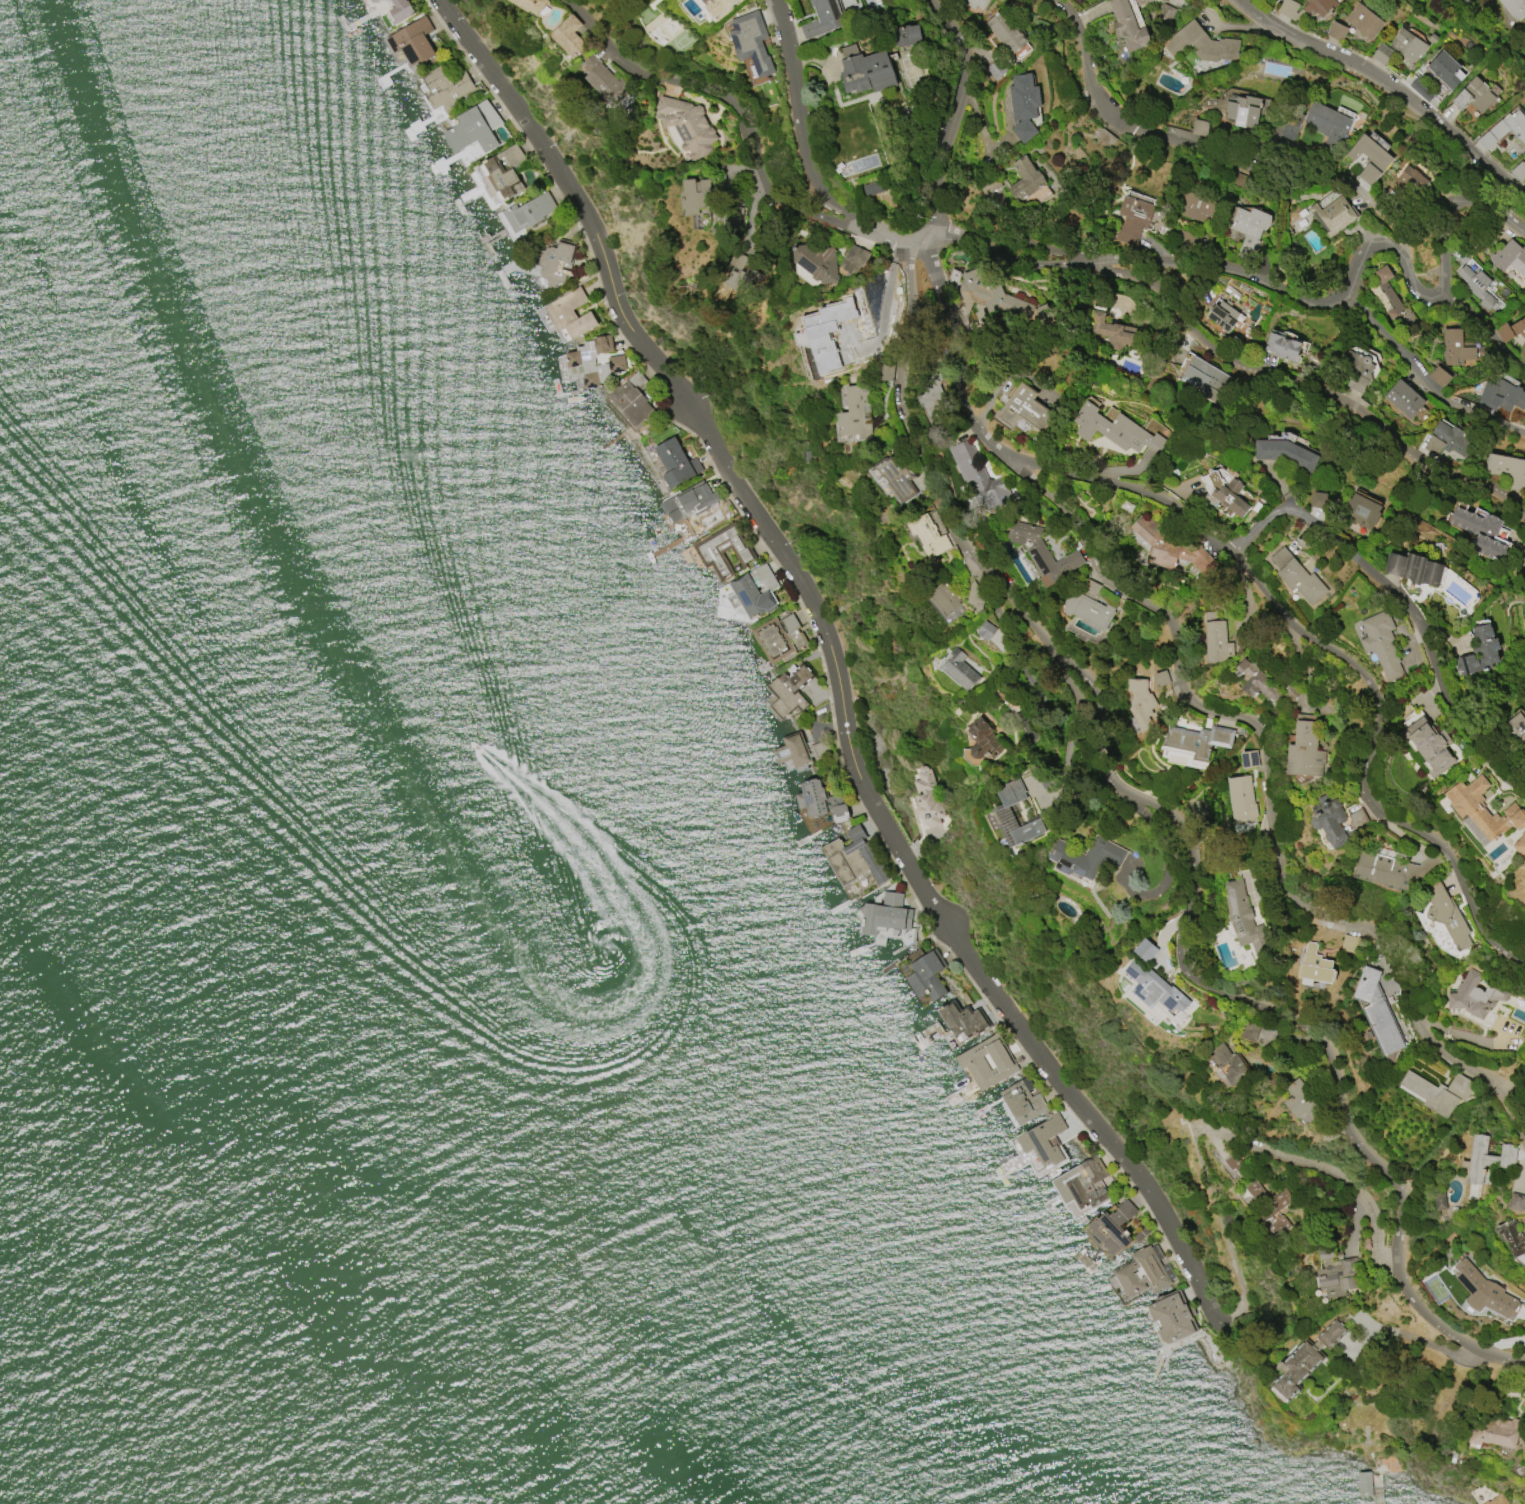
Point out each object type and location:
building: (368, 2)
building: (974, 3)
building: (870, 4)
building: (531, 5)
building: (716, 6)
building: (1513, 7)
building: (1307, 8)
building: (400, 9)
building: (822, 18)
building: (1364, 21)
building: (1127, 26)
building: (1335, 30)
building: (1004, 32)
building: (906, 35)
building: (568, 36)
building: (412, 41)
building: (750, 42)
building: (1202, 44)
building: (1408, 45)
building: (1381, 53)
building: (1445, 69)
building: (867, 72)
building: (447, 83)
building: (606, 83)
road: (1389, 87)
building: (1473, 95)
road: (725, 99)
building: (1023, 106)
building: (1243, 111)
building: (1326, 121)
building: (685, 126)
building: (473, 127)
building: (1504, 131)
building: (1377, 140)
road: (1204, 150)
road: (808, 155)
building: (1370, 158)
building: (500, 173)
building: (1025, 179)
building: (1410, 179)
building: (873, 187)
building: (696, 195)
building: (1195, 207)
building: (528, 211)
building: (1134, 214)
building: (1332, 215)
building: (1248, 230)
building: (1509, 257)
building: (854, 259)
building: (816, 261)
building: (555, 262)
building: (741, 274)
building: (1477, 286)
building: (1385, 293)
building: (992, 297)
road: (1296, 298)
building: (570, 313)
building: (1223, 315)
road: (1485, 330)
building: (1511, 330)
building: (1109, 331)
building: (823, 336)
building: (1283, 346)
building: (1455, 347)
building: (601, 358)
building: (1355, 369)
building: (1205, 376)
building: (1438, 376)
road: (1424, 381)
road: (1304, 384)
building: (1507, 391)
building: (932, 397)
building: (632, 398)
building: (1403, 399)
building: (1024, 409)
building: (854, 415)
building: (1115, 429)
building: (1441, 440)
building: (1284, 452)
building: (675, 462)
building: (1506, 471)
building: (893, 478)
building: (979, 478)
road: (1151, 494)
building: (1227, 497)
building: (1317, 500)
building: (688, 501)
building: (1360, 511)
building: (1481, 532)
building: (928, 535)
building: (1170, 548)
building: (722, 550)
building: (1042, 554)
building: (1413, 568)
building: (1297, 576)
building: (752, 592)
road: (1402, 601)
building: (944, 602)
building: (1088, 606)
building: (985, 630)
building: (777, 636)
building: (1216, 641)
building: (1381, 643)
building: (1479, 651)
road: (836, 663)
building: (958, 669)
building: (1262, 681)
building: (788, 690)
building: (1140, 703)
building: (1517, 728)
building: (982, 739)
building: (1193, 745)
building: (1429, 745)
building: (1304, 750)
building: (798, 751)
building: (1247, 759)
road: (1265, 787)
building: (926, 799)
building: (1241, 800)
building: (820, 801)
building: (1482, 808)
building: (1002, 813)
building: (1356, 819)
building: (1331, 823)
building: (1473, 831)
road: (1186, 835)
building: (1520, 840)
building: (1084, 857)
building: (853, 858)
building: (1392, 870)
building: (884, 914)
building: (1442, 918)
building: (1243, 921)
building: (1143, 949)
building: (1315, 965)
building: (926, 976)
building: (1154, 989)
building: (1473, 995)
building: (1375, 1011)
building: (962, 1020)
building: (1256, 1032)
building: (1524, 1056)
building: (987, 1062)
building: (1225, 1065)
building: (1437, 1091)
building: (1022, 1101)
building: (1300, 1102)
building: (1043, 1141)
building: (1486, 1158)
building: (1232, 1164)
road: (1328, 1173)
building: (1081, 1184)
building: (1249, 1192)
building: (1438, 1201)
building: (1515, 1201)
building: (1273, 1214)
building: (1111, 1228)
road: (1224, 1230)
building: (1511, 1238)
building: (1143, 1272)
building: (1333, 1274)
building: (1481, 1290)
building: (1170, 1318)
building: (1305, 1358)
building: (1523, 1393)
building: (1493, 1431)
building: (1362, 1484)
building: (1495, 1500)

